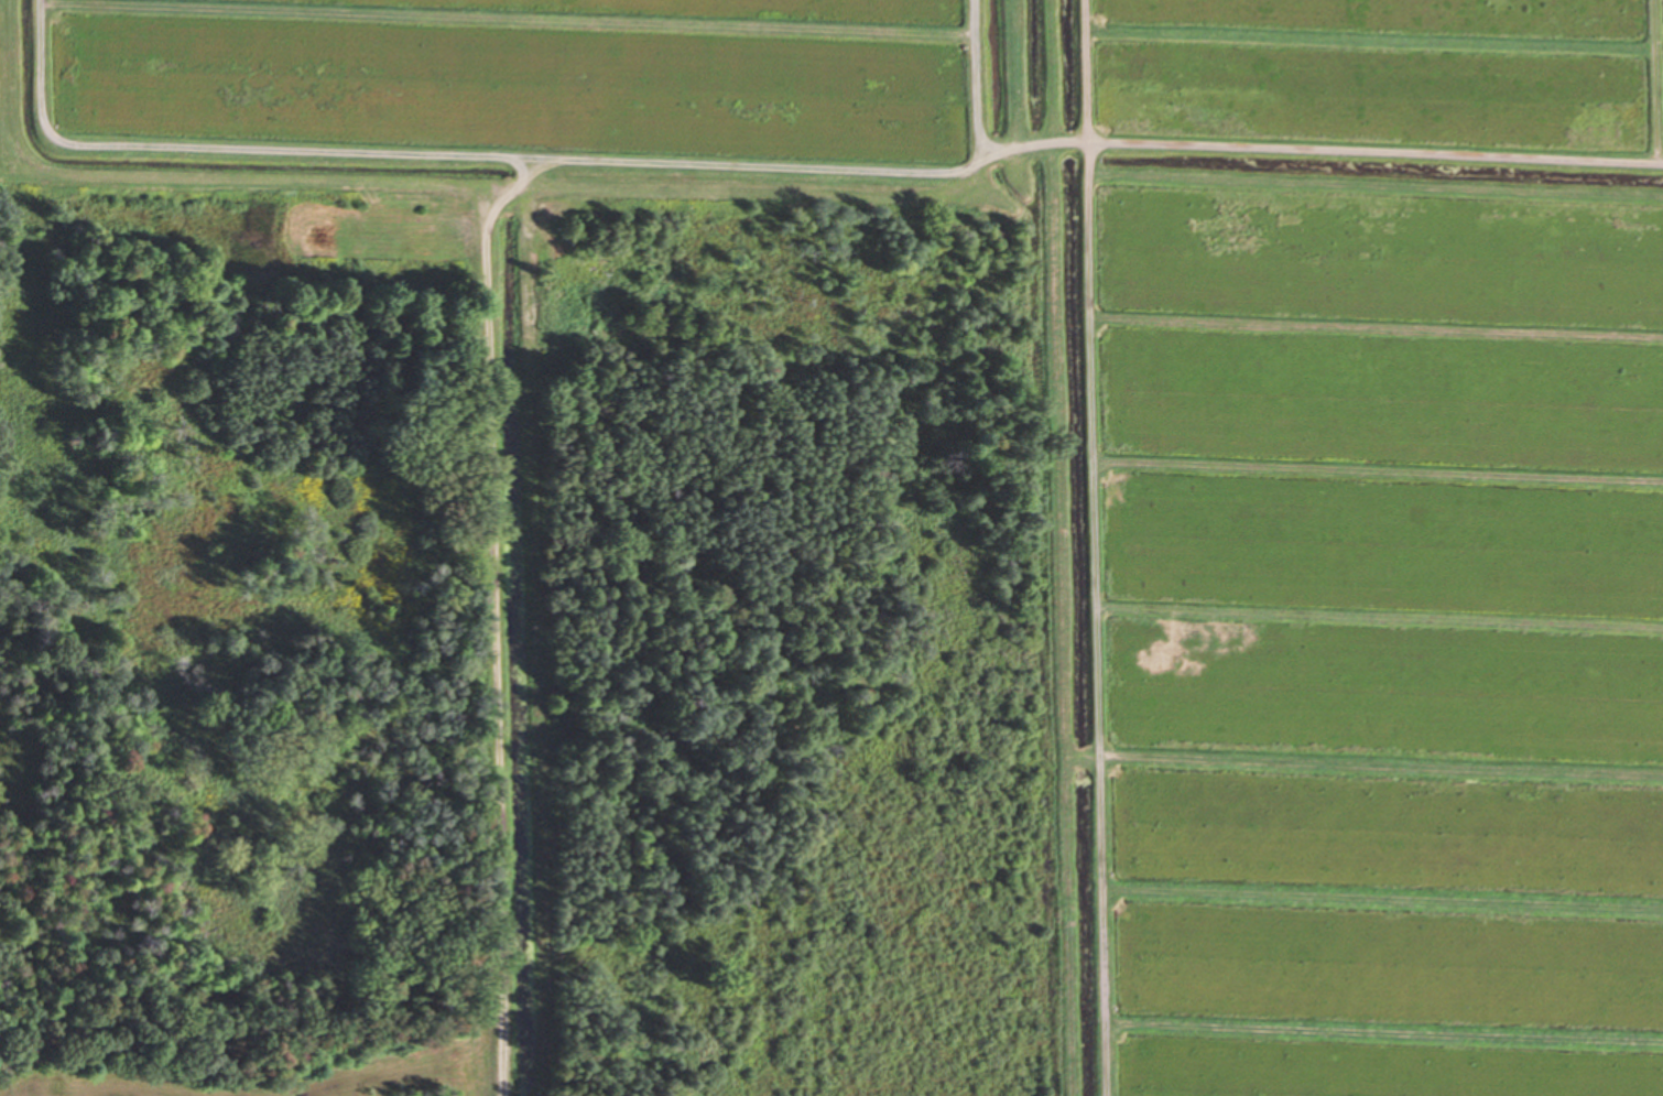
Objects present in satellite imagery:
crop: (1182, 442)

